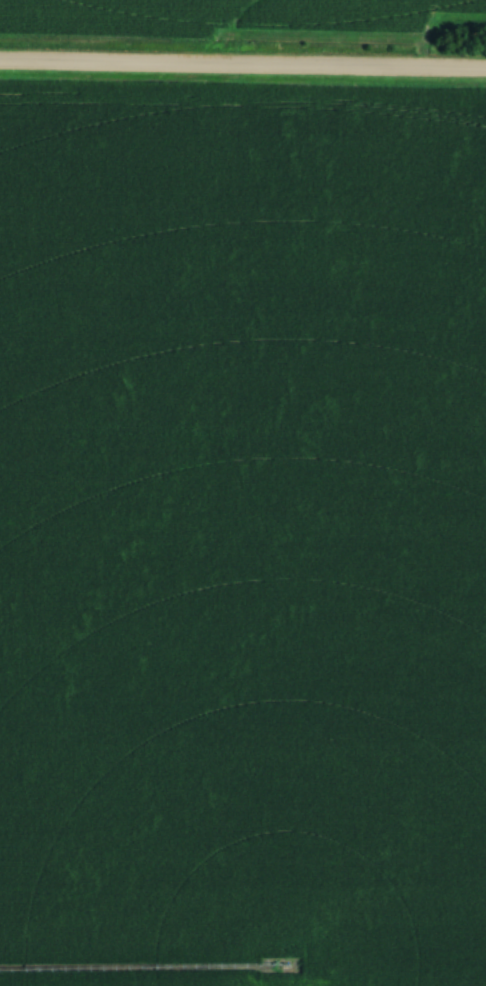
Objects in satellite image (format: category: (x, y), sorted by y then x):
road: (243, 69)

